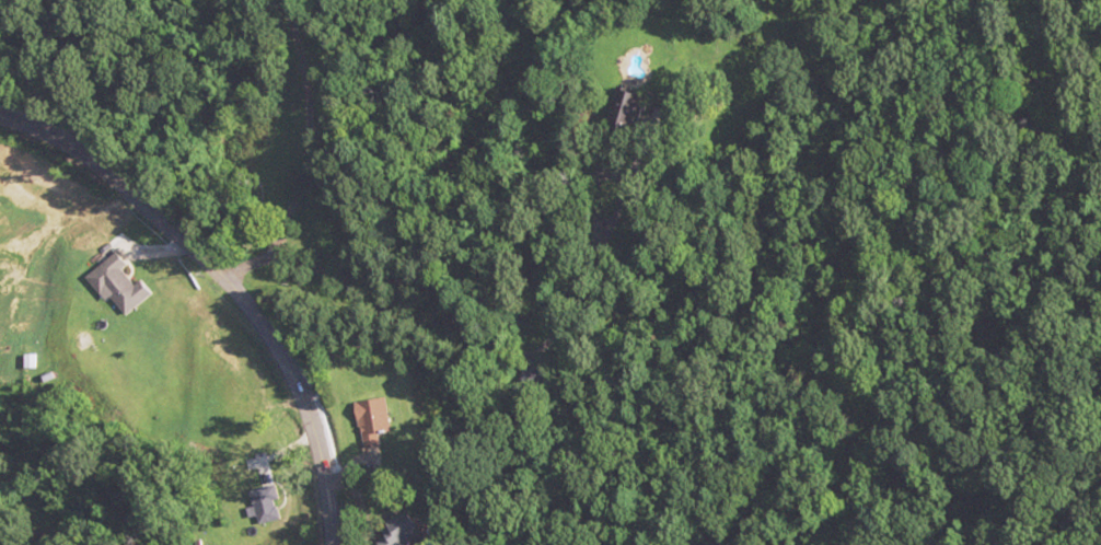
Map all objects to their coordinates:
building: (625, 108)
road: (209, 280)
building: (115, 283)
building: (371, 430)

